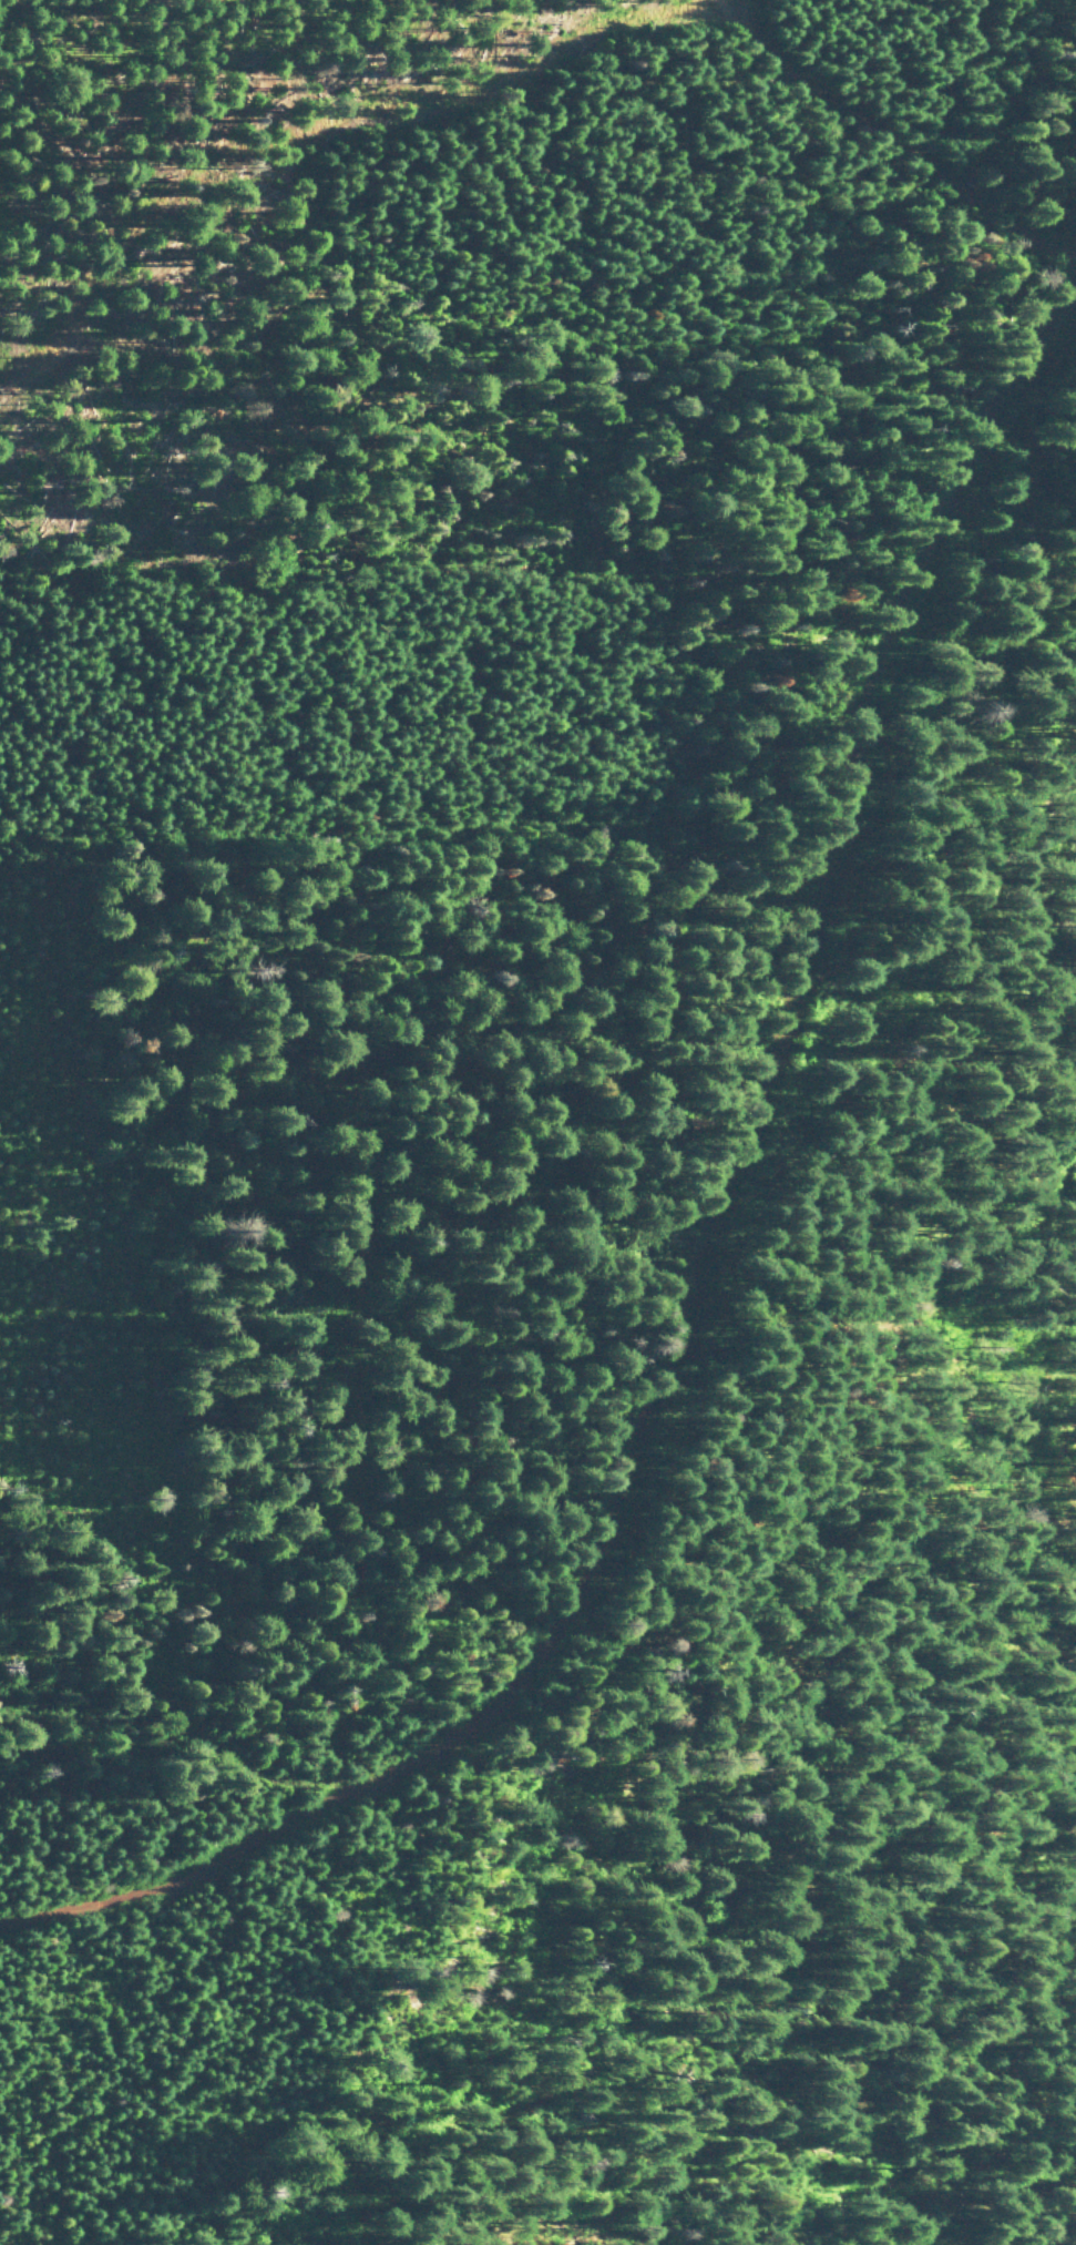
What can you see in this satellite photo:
road: (687, 1236)

